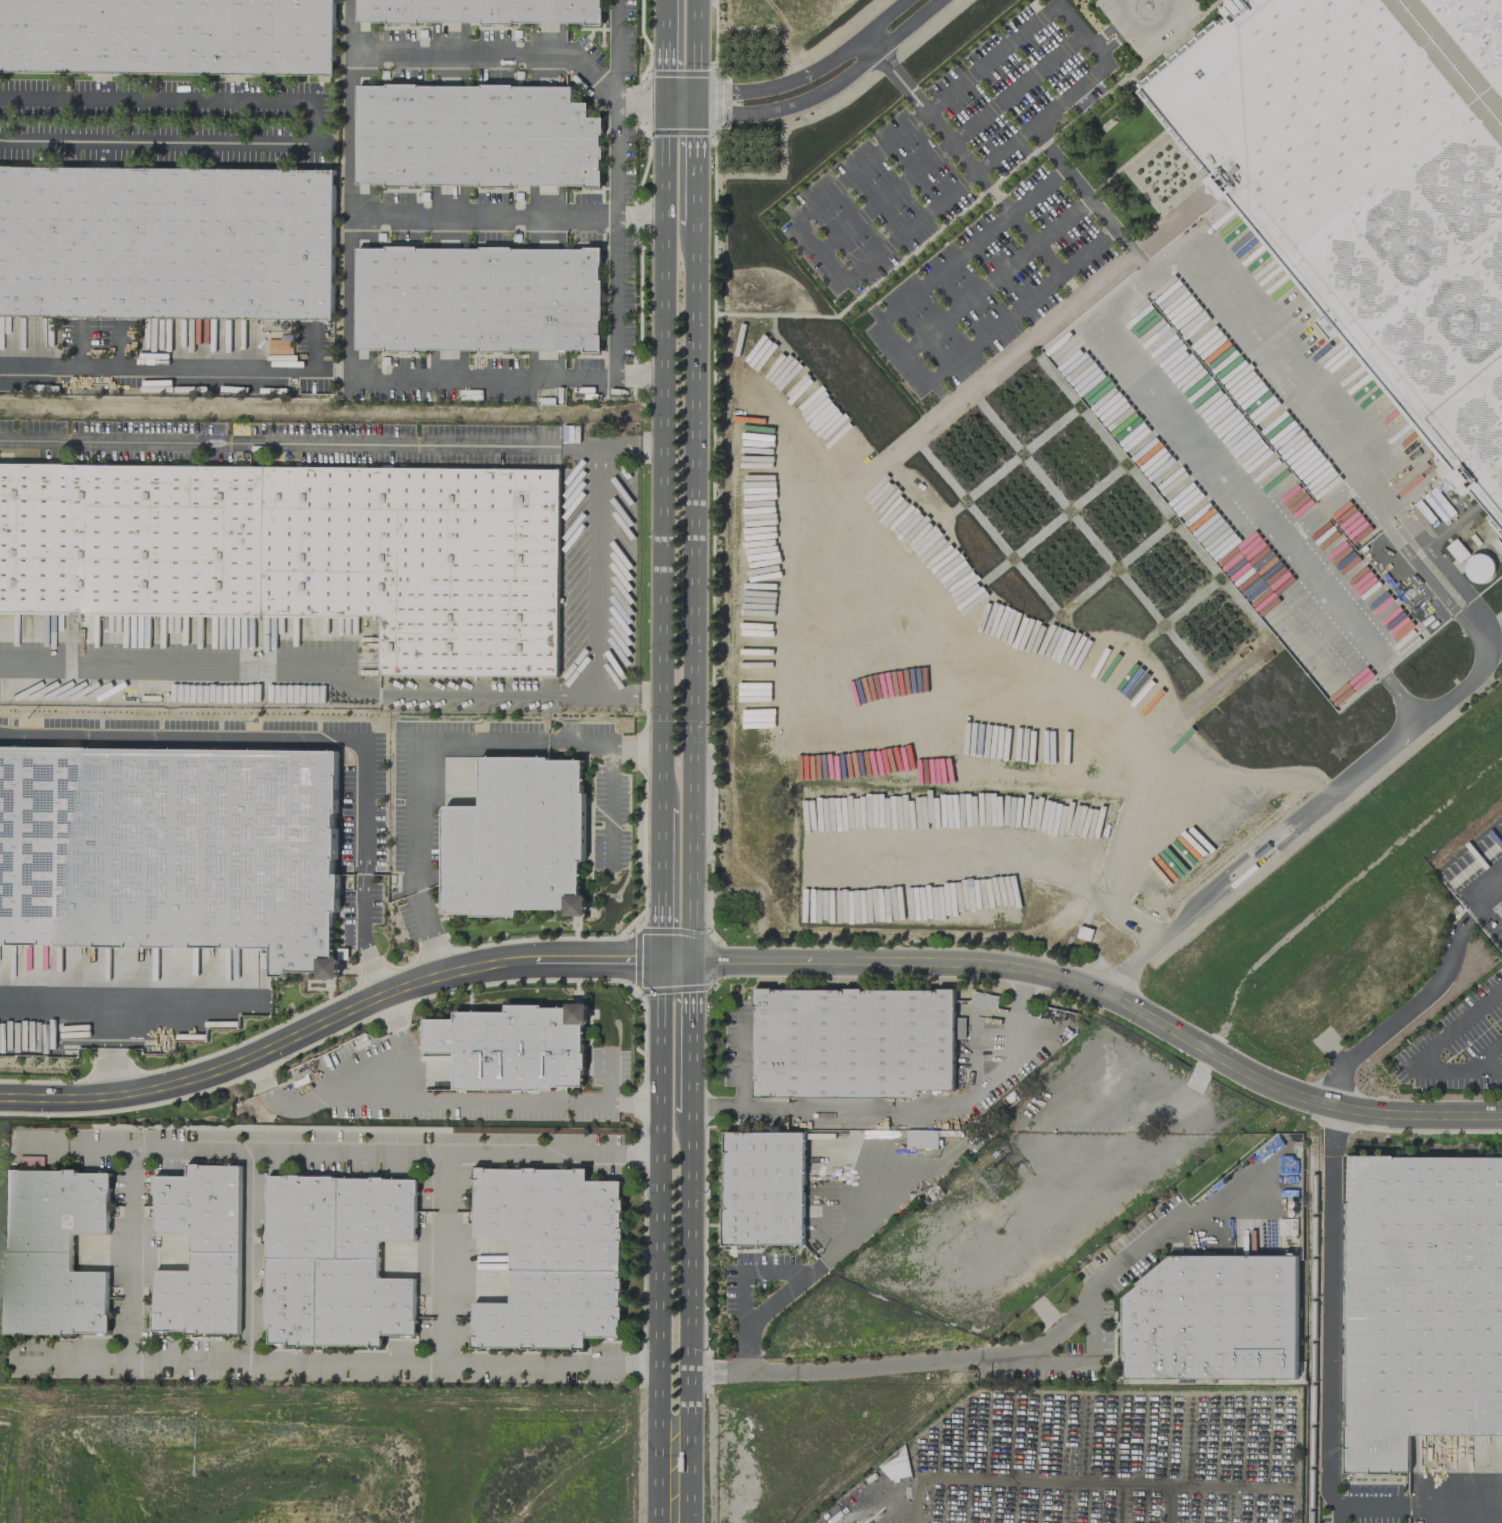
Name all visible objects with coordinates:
road: (1123, 0)
building: (478, 10)
road: (664, 20)
road: (1107, 29)
road: (1145, 29)
building: (168, 36)
road: (1116, 39)
road: (617, 50)
road: (692, 51)
road: (493, 54)
road: (664, 70)
road: (898, 77)
road: (806, 86)
road: (640, 100)
traffic signals: (664, 101)
road: (315, 120)
road: (692, 129)
building: (474, 136)
road: (950, 141)
road: (1072, 178)
building: (1372, 186)
road: (693, 190)
road: (992, 193)
road: (482, 214)
road: (640, 214)
road: (615, 238)
road: (810, 239)
building: (166, 242)
road: (1133, 252)
road: (996, 276)
road: (1127, 295)
building: (476, 298)
road: (347, 332)
road: (902, 353)
road: (173, 365)
road: (647, 375)
road: (279, 440)
road: (599, 442)
road: (651, 442)
road: (662, 454)
building: (299, 552)
building: (1478, 567)
road: (595, 580)
road: (693, 593)
road: (278, 675)
road: (246, 734)
road: (635, 743)
road: (418, 766)
road: (1329, 793)
road: (609, 803)
building: (515, 839)
building: (171, 850)
road: (661, 857)
road: (660, 932)
road: (361, 936)
traffic signals: (660, 959)
road: (755, 961)
road: (1124, 976)
road: (690, 987)
road: (1021, 990)
road: (1418, 1001)
road: (67, 1012)
building: (854, 1042)
building: (511, 1047)
road: (1427, 1048)
road: (1485, 1054)
road: (742, 1059)
road: (690, 1060)
road: (110, 1070)
road: (608, 1077)
road: (268, 1090)
road: (357, 1097)
road: (612, 1103)
road: (737, 1108)
road: (928, 1108)
building: (921, 1138)
road: (78, 1148)
power tower: (996, 1183)
building: (762, 1188)
road: (659, 1241)
building: (199, 1250)
building: (53, 1251)
road: (1127, 1255)
road: (128, 1256)
building: (549, 1256)
road: (249, 1257)
road: (443, 1258)
building: (335, 1259)
road: (806, 1269)
road: (777, 1298)
building: (1419, 1303)
road: (688, 1315)
building: (1211, 1318)
landfill: (321, 1324)
railway: (1312, 1329)
road: (71, 1358)
road: (838, 1368)
road: (1325, 1390)
building: (895, 1470)
road: (1039, 1481)
road: (1230, 1487)
road: (880, 1501)

